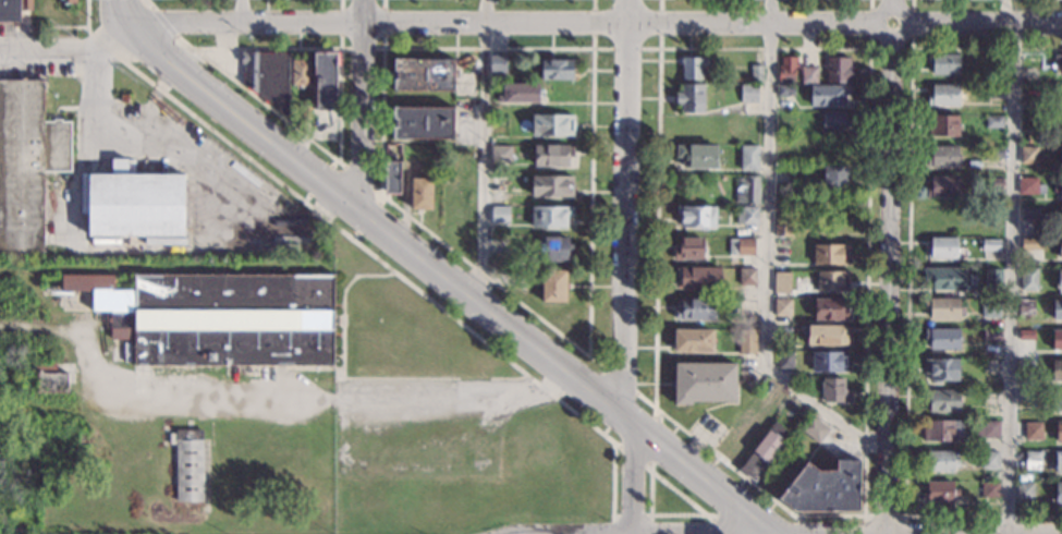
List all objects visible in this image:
building: (64, 2)
road: (146, 3)
building: (11, 9)
road: (242, 11)
road: (86, 13)
road: (123, 13)
road: (163, 22)
road: (596, 25)
road: (52, 26)
road: (111, 38)
road: (322, 48)
road: (362, 48)
road: (891, 48)
road: (567, 49)
road: (625, 49)
road: (46, 50)
building: (496, 64)
building: (942, 64)
building: (1058, 66)
building: (692, 69)
building: (556, 70)
building: (786, 70)
building: (835, 71)
building: (298, 73)
building: (755, 74)
building: (422, 75)
building: (807, 76)
building: (994, 76)
building: (267, 77)
building: (324, 81)
building: (784, 93)
building: (518, 94)
building: (747, 95)
building: (827, 96)
building: (942, 97)
building: (1061, 97)
building: (124, 98)
road: (256, 98)
building: (689, 99)
road: (359, 101)
building: (304, 109)
building: (833, 122)
building: (420, 123)
building: (993, 123)
building: (550, 124)
building: (942, 126)
building: (1061, 129)
road: (156, 139)
building: (830, 148)
road: (484, 149)
building: (992, 154)
building: (498, 155)
building: (550, 156)
building: (697, 157)
building: (941, 157)
building: (1027, 157)
building: (1060, 158)
building: (748, 159)
road: (333, 162)
road: (340, 163)
building: (25, 165)
road: (658, 172)
building: (833, 177)
road: (357, 178)
building: (390, 178)
road: (320, 180)
building: (993, 184)
building: (1027, 184)
building: (550, 187)
building: (942, 189)
building: (1058, 189)
building: (748, 190)
building: (420, 194)
road: (305, 198)
road: (379, 198)
building: (130, 204)
road: (908, 207)
building: (1029, 214)
building: (497, 215)
building: (549, 216)
building: (746, 216)
road: (367, 217)
building: (697, 217)
building: (1060, 218)
building: (781, 228)
road: (867, 232)
road: (354, 235)
building: (1029, 244)
building: (989, 246)
building: (741, 247)
building: (552, 250)
building: (941, 250)
building: (1059, 250)
building: (687, 251)
road: (767, 255)
building: (829, 255)
road: (376, 258)
road: (623, 267)
road: (889, 267)
building: (746, 278)
road: (488, 279)
building: (698, 279)
building: (944, 279)
building: (992, 280)
road: (1013, 280)
building: (1027, 280)
road: (450, 281)
building: (831, 281)
building: (1059, 283)
building: (781, 284)
building: (556, 286)
building: (782, 307)
building: (1025, 307)
building: (989, 308)
building: (695, 310)
building: (826, 310)
building: (942, 310)
building: (1057, 311)
building: (216, 317)
building: (991, 336)
building: (1026, 336)
building: (826, 337)
building: (941, 339)
building: (1057, 340)
building: (692, 341)
building: (746, 343)
building: (784, 361)
building: (828, 362)
road: (310, 369)
building: (1024, 369)
building: (940, 371)
building: (1057, 372)
road: (363, 377)
building: (46, 379)
road: (620, 381)
building: (704, 384)
building: (832, 391)
road: (266, 398)
building: (1026, 398)
road: (645, 400)
building: (1058, 401)
building: (941, 402)
road: (654, 412)
building: (987, 429)
building: (813, 430)
building: (1032, 432)
building: (942, 433)
building: (1058, 433)
road: (650, 439)
road: (615, 444)
road: (633, 454)
building: (762, 454)
building: (989, 461)
building: (1030, 461)
building: (938, 463)
building: (1058, 463)
building: (186, 465)
road: (649, 468)
road: (750, 483)
building: (823, 489)
building: (988, 490)
building: (1024, 493)
building: (938, 494)
building: (1058, 494)
road: (631, 514)
road: (689, 514)
road: (884, 515)
road: (984, 515)
road: (708, 517)
road: (795, 518)
road: (864, 524)
road: (905, 524)
road: (720, 526)
road: (806, 526)
road: (884, 533)

